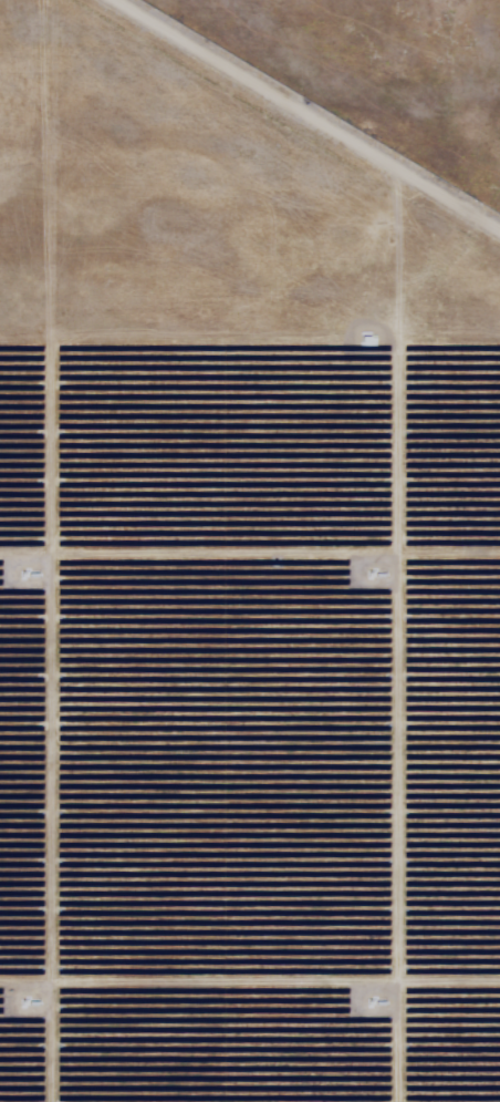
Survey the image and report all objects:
solar farm: (250, 550)

